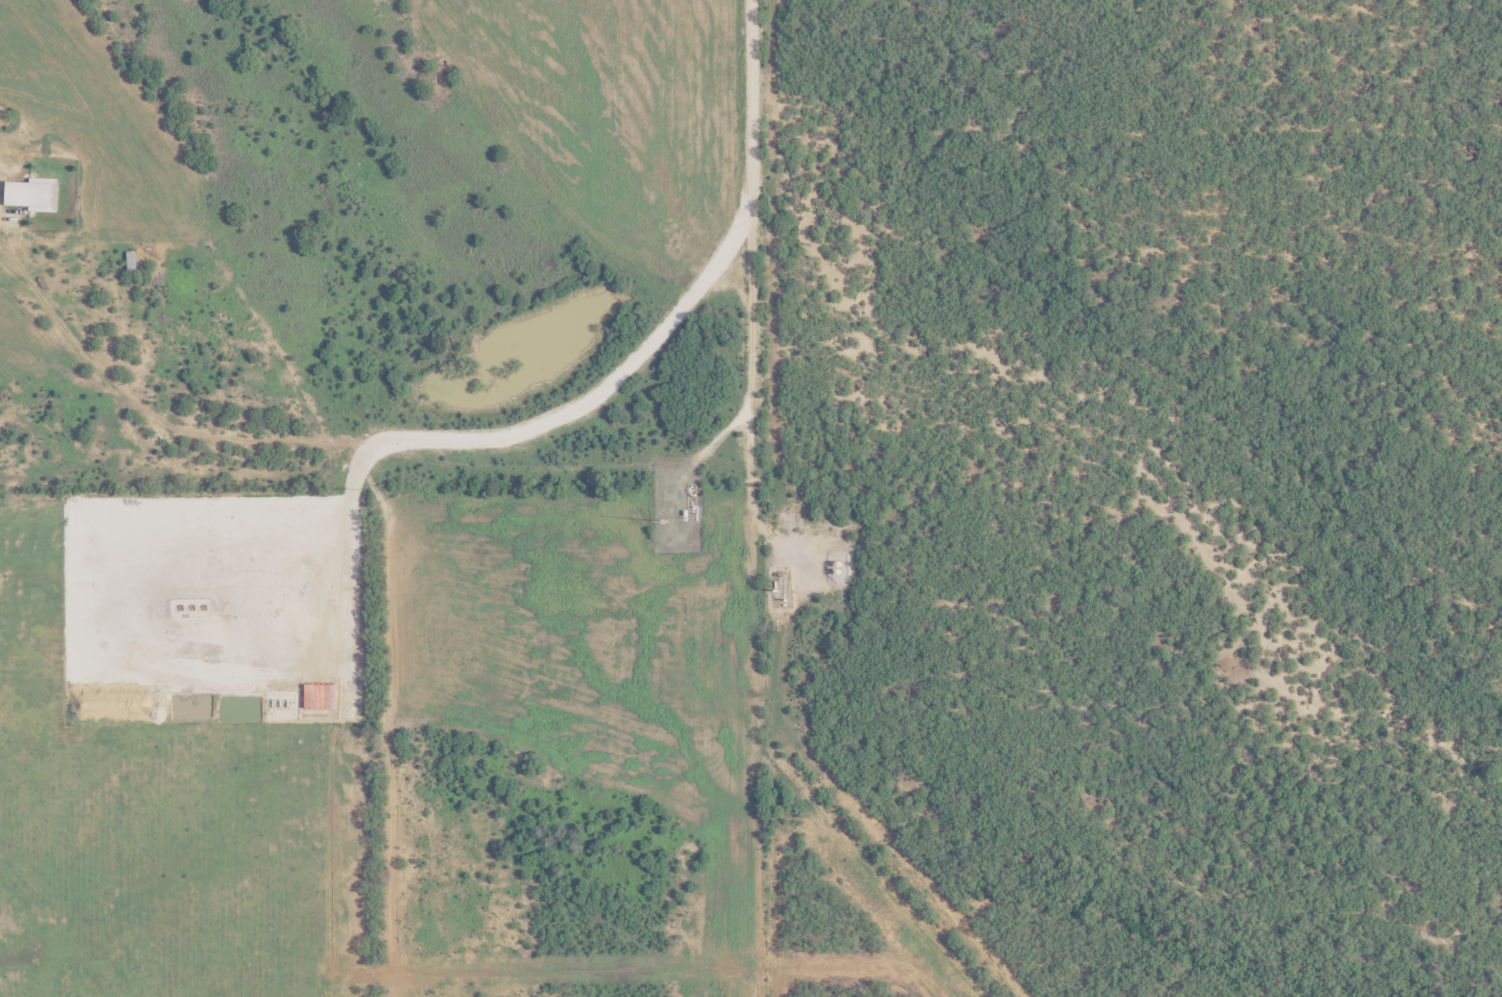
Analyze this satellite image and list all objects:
building: (27, 193)

